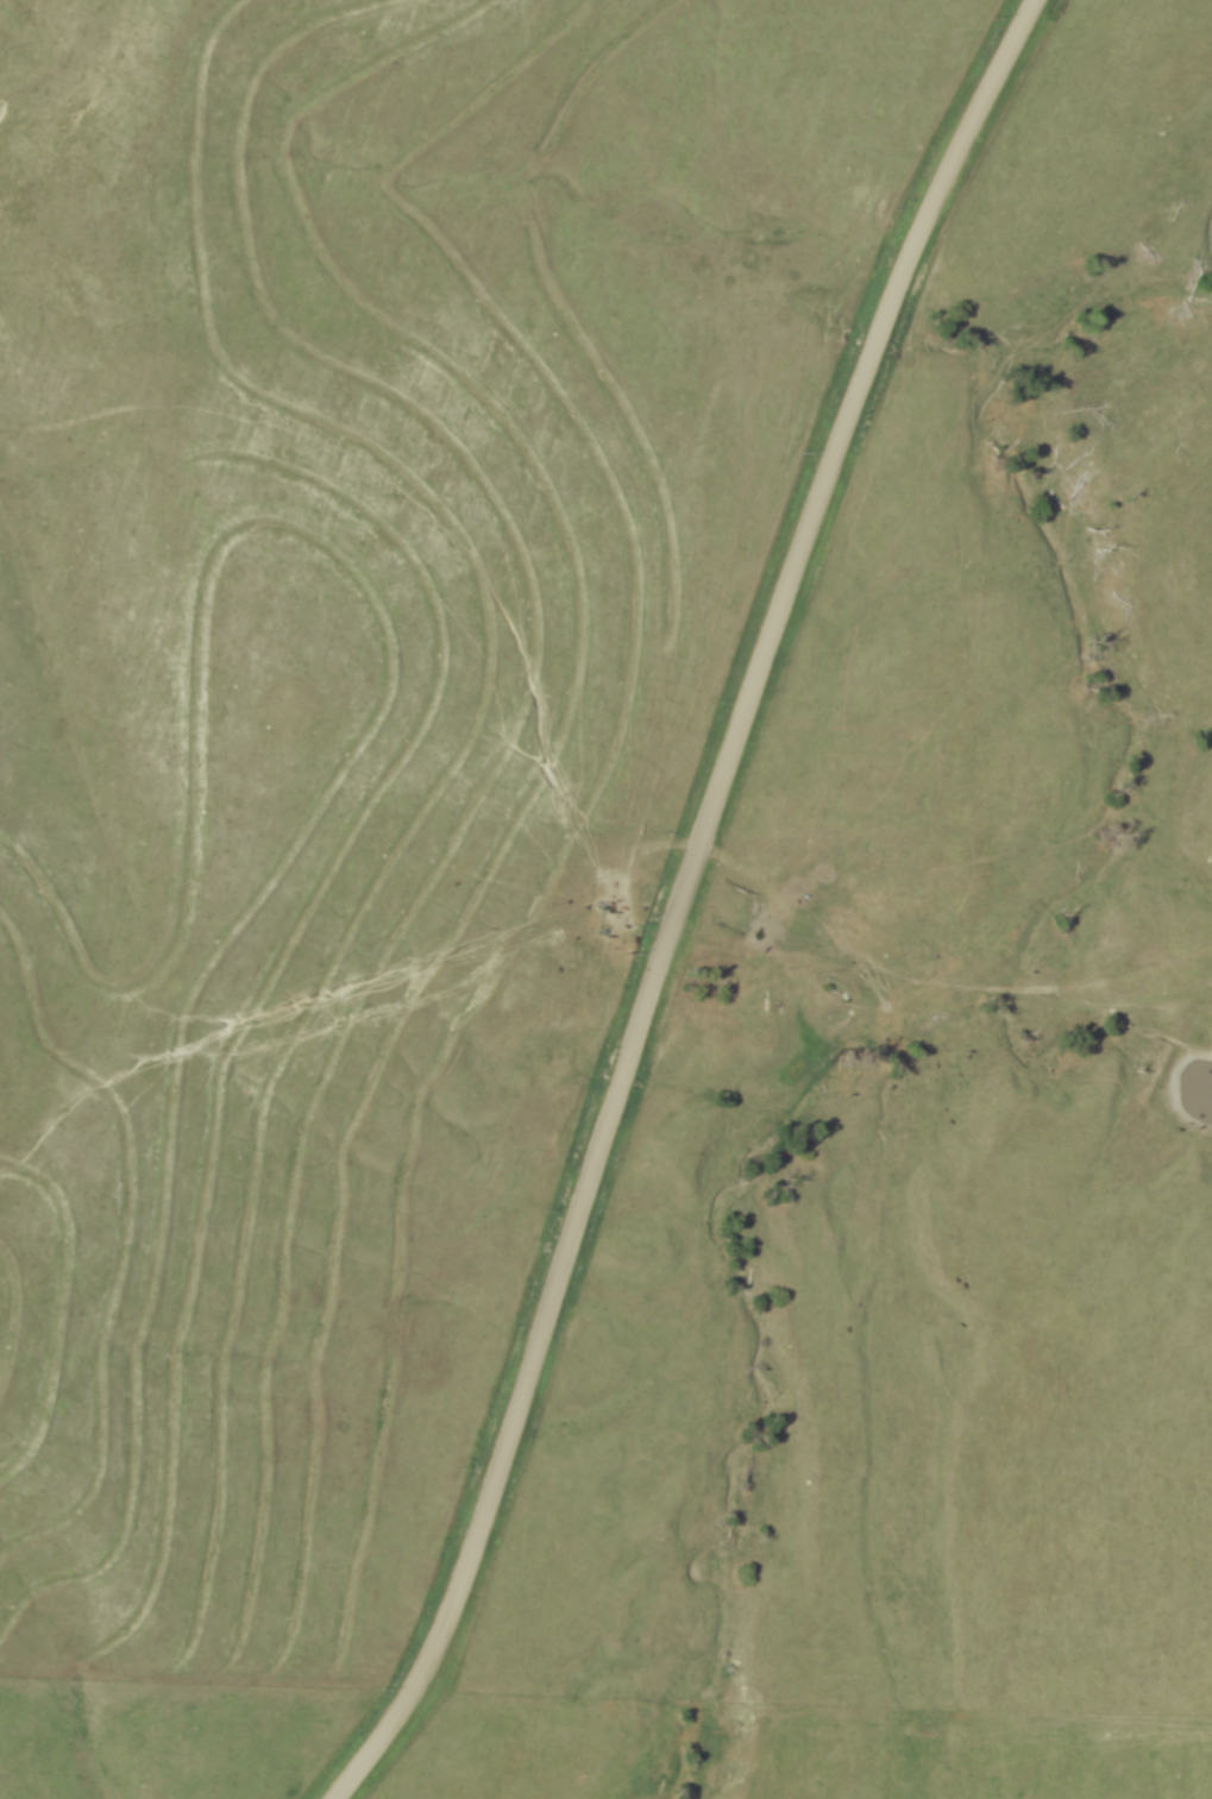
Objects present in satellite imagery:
road: (679, 900)

